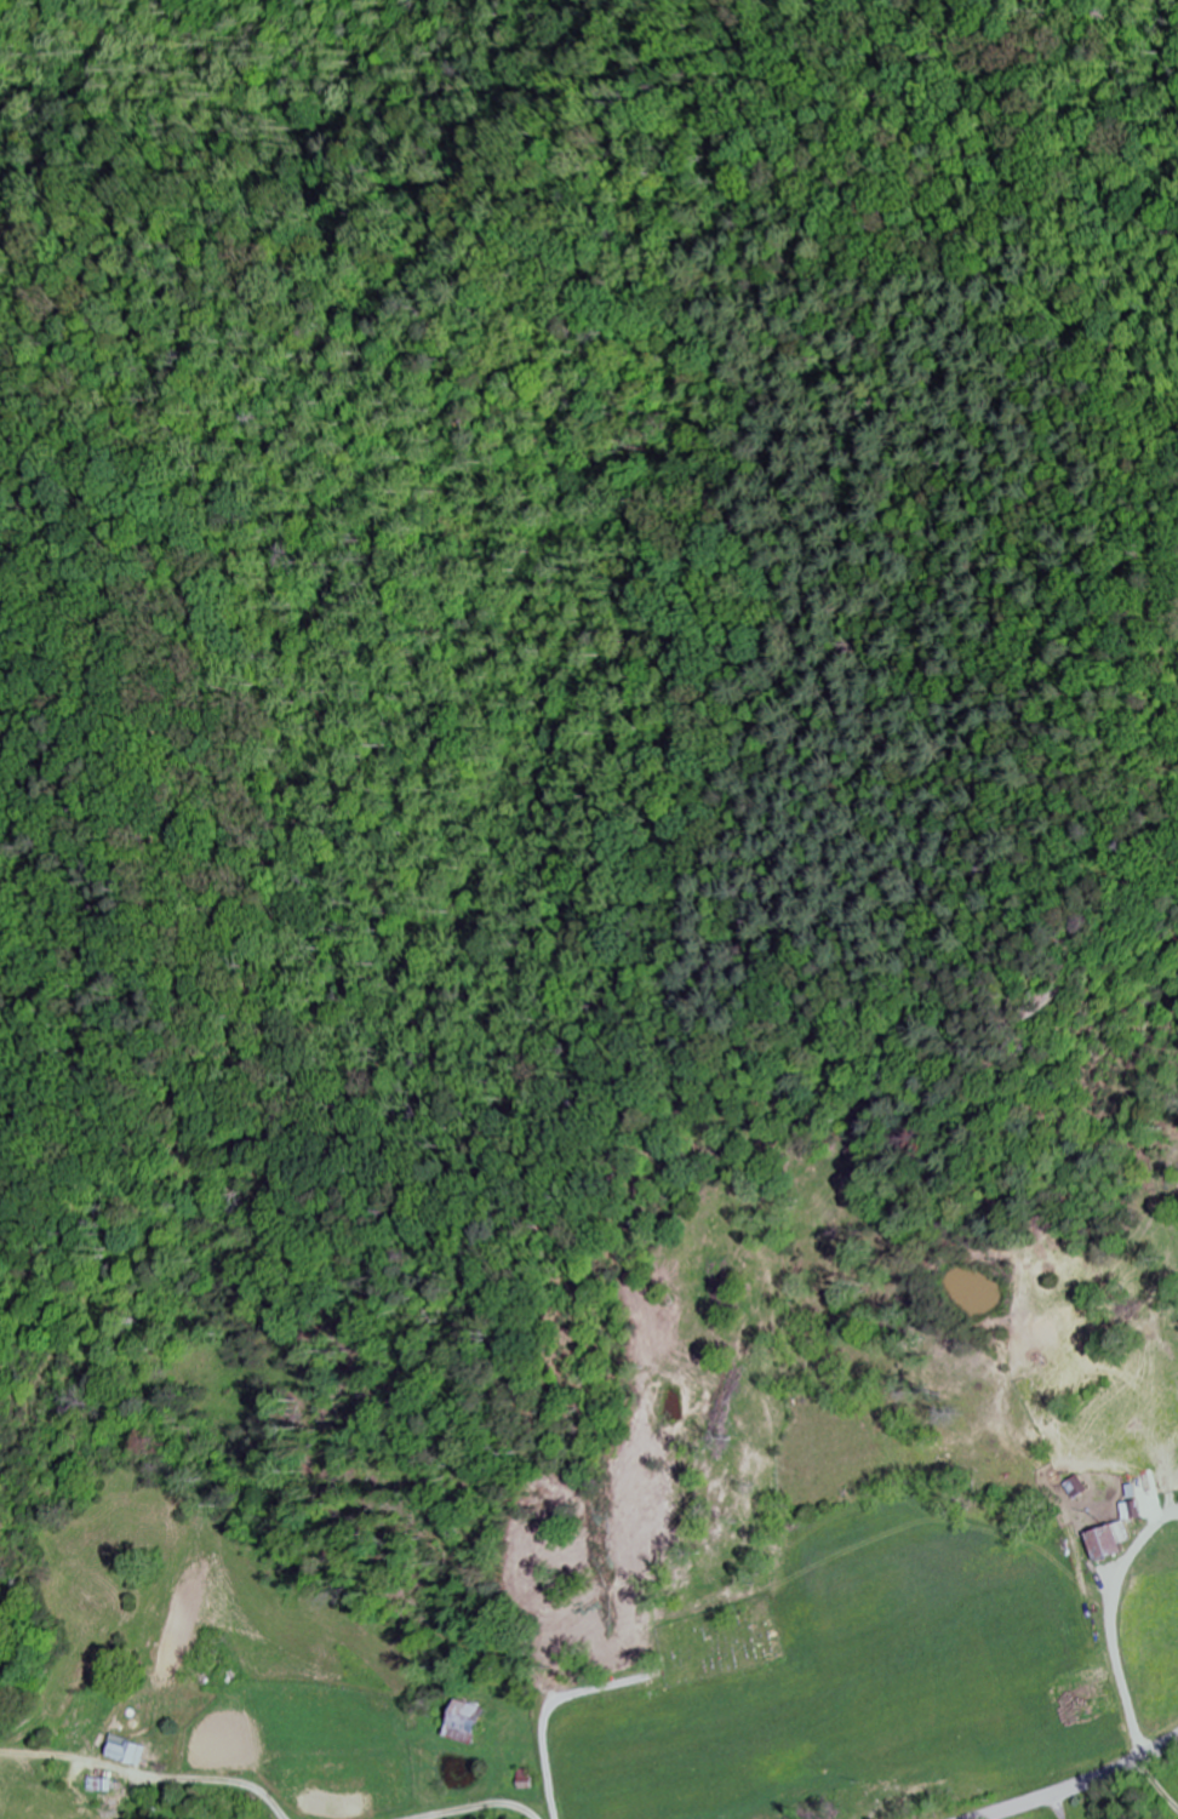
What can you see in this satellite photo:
building: (1144, 1508)
building: (1111, 1543)
park: (713, 1641)
road: (541, 1733)
building: (126, 1754)
road: (1077, 1784)
road: (1151, 1791)

